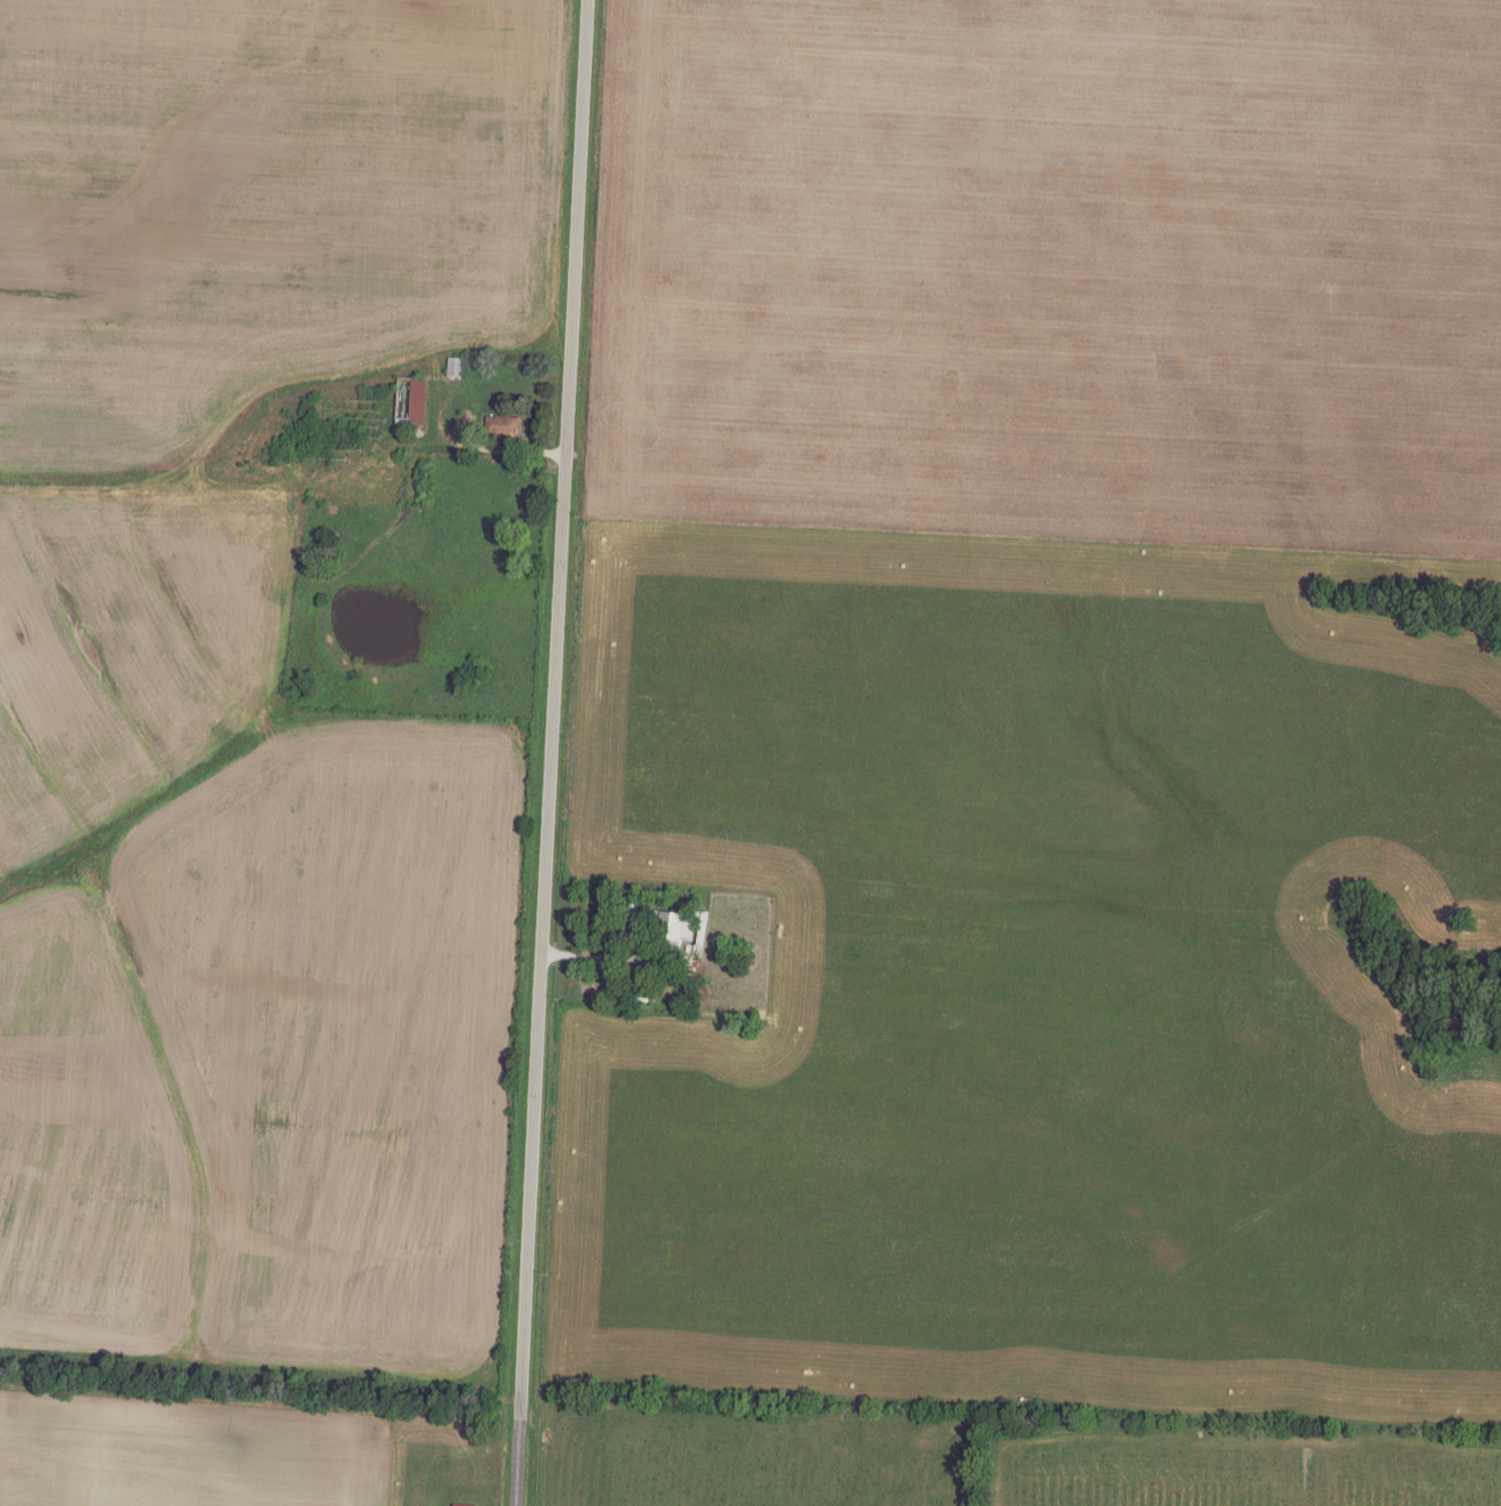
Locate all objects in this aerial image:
building: (500, 421)
road: (287, 484)
road: (550, 752)
building: (463, 1503)

